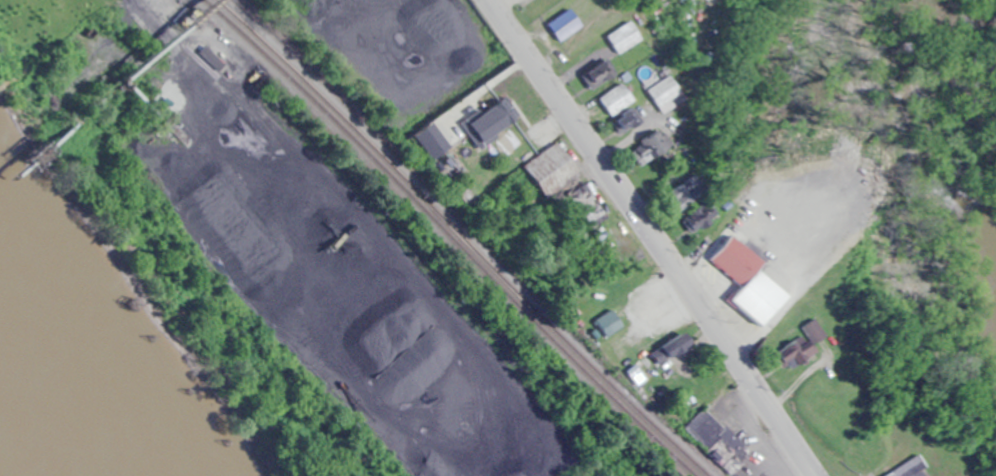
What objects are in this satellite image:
building: (565, 23)
building: (623, 37)
building: (600, 74)
building: (665, 93)
building: (615, 99)
building: (496, 120)
building: (626, 122)
building: (649, 149)
building: (566, 182)
building: (685, 194)
building: (700, 216)
railway: (452, 236)
railway: (466, 237)
road: (659, 238)
building: (738, 260)
building: (799, 349)
building: (721, 443)

